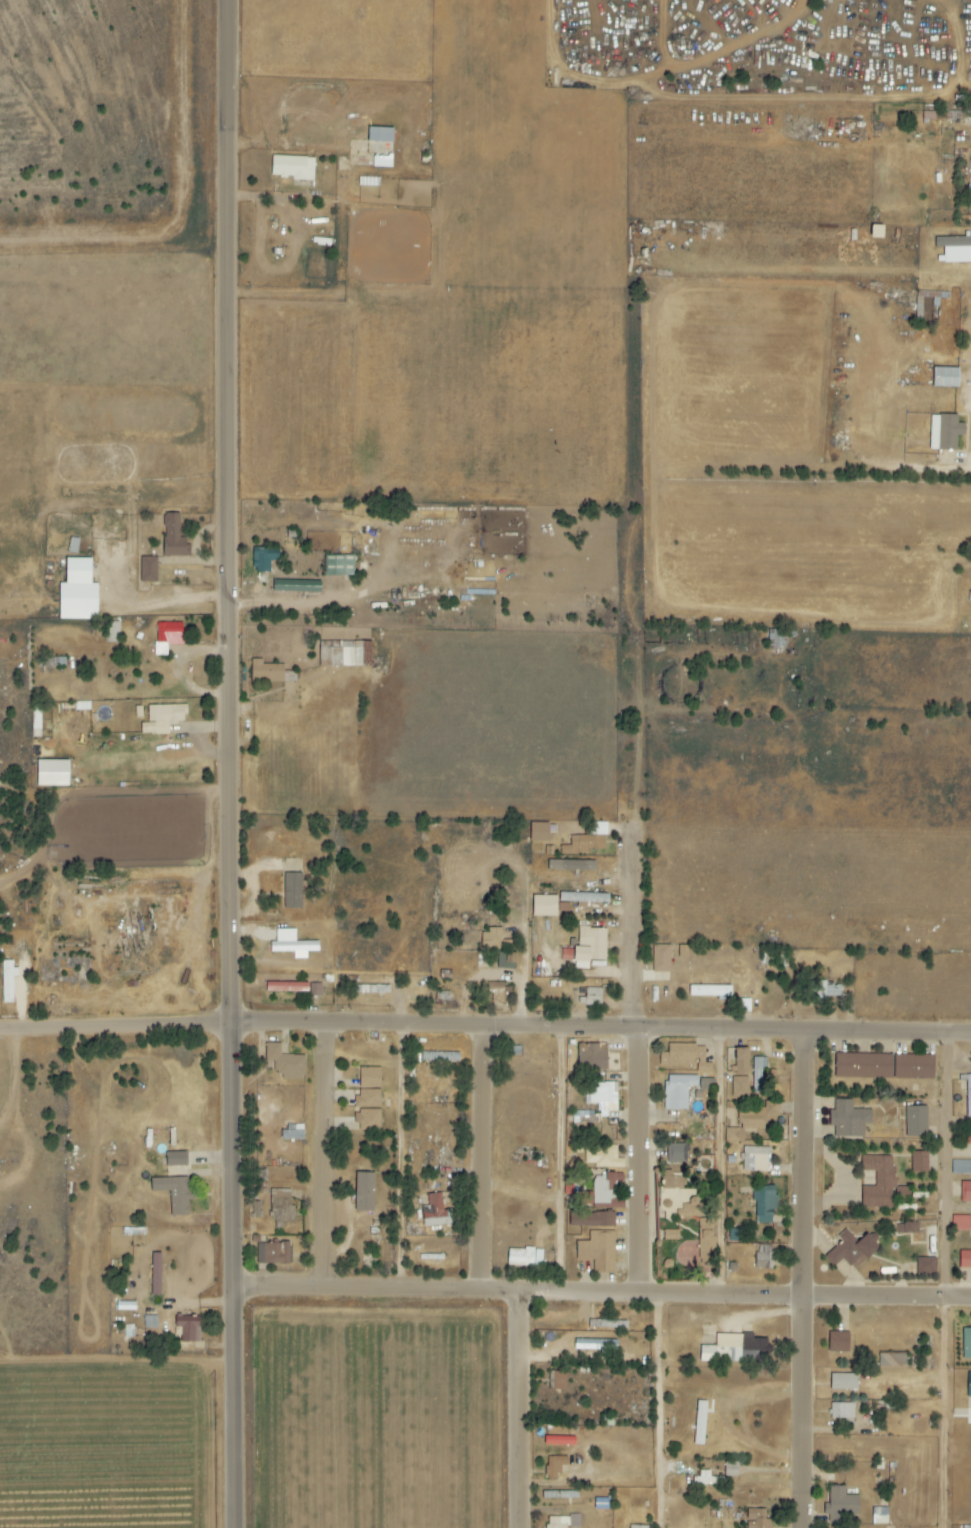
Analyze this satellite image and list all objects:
building: (380, 134)
building: (382, 161)
building: (292, 167)
road: (304, 201)
building: (956, 249)
building: (945, 377)
building: (945, 432)
building: (174, 537)
building: (339, 566)
building: (148, 569)
building: (296, 586)
building: (77, 592)
building: (969, 596)
road: (274, 612)
building: (111, 632)
building: (167, 636)
building: (345, 654)
building: (270, 673)
building: (163, 718)
road: (234, 764)
building: (51, 773)
building: (538, 831)
building: (587, 839)
building: (571, 865)
building: (292, 891)
building: (583, 897)
building: (544, 905)
building: (491, 938)
building: (292, 945)
building: (682, 951)
building: (661, 958)
building: (506, 960)
road: (529, 973)
building: (7, 979)
building: (286, 987)
building: (315, 990)
building: (710, 991)
building: (591, 997)
road: (119, 1027)
road: (605, 1029)
building: (440, 1056)
building: (592, 1056)
building: (685, 1057)
building: (740, 1061)
building: (285, 1062)
road: (642, 1065)
building: (884, 1066)
building: (758, 1074)
building: (369, 1077)
road: (22, 1083)
building: (707, 1085)
building: (740, 1087)
building: (678, 1091)
building: (968, 1096)
building: (367, 1110)
building: (849, 1118)
building: (751, 1120)
building: (916, 1121)
building: (968, 1139)
building: (675, 1153)
building: (605, 1157)
building: (176, 1158)
building: (755, 1159)
road: (333, 1160)
road: (407, 1160)
road: (489, 1161)
road: (568, 1162)
building: (919, 1162)
road: (729, 1166)
road: (951, 1166)
building: (961, 1167)
building: (671, 1180)
building: (883, 1184)
building: (607, 1190)
building: (364, 1192)
building: (966, 1192)
building: (174, 1193)
building: (764, 1203)
building: (281, 1206)
building: (436, 1212)
building: (597, 1219)
building: (961, 1223)
building: (907, 1227)
building: (671, 1235)
building: (706, 1243)
building: (851, 1250)
building: (598, 1251)
building: (274, 1253)
building: (764, 1257)
building: (965, 1259)
building: (926, 1265)
building: (155, 1274)
road: (811, 1281)
road: (604, 1296)
building: (610, 1324)
road: (176, 1328)
building: (188, 1328)
building: (838, 1341)
building: (966, 1343)
building: (595, 1344)
building: (722, 1349)
building: (755, 1349)
building: (893, 1362)
building: (558, 1380)
building: (843, 1382)
building: (969, 1405)
road: (527, 1411)
building: (843, 1412)
road: (944, 1412)
road: (667, 1413)
building: (700, 1423)
building: (559, 1441)
building: (554, 1466)
building: (842, 1504)
building: (879, 1515)
building: (757, 1519)
building: (563, 1522)
building: (638, 1527)

